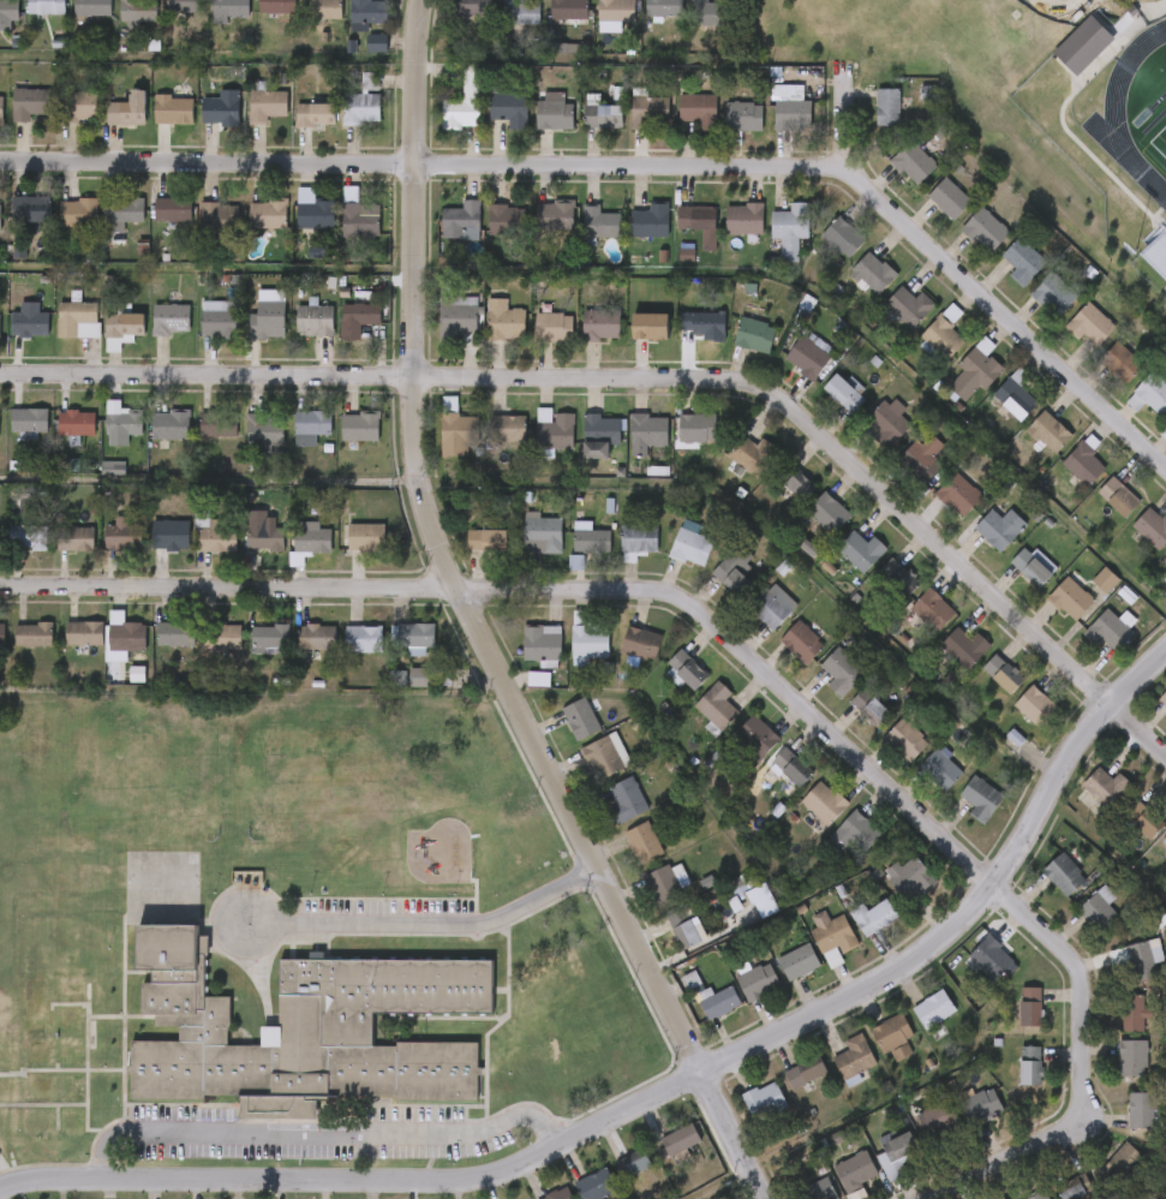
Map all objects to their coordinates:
road: (1059, 4)
building: (184, 6)
building: (277, 6)
building: (44, 7)
building: (92, 7)
building: (473, 7)
building: (231, 8)
building: (664, 8)
building: (8, 10)
building: (138, 10)
building: (323, 10)
building: (568, 10)
building: (367, 11)
building: (616, 11)
building: (521, 12)
building: (707, 13)
building: (162, 17)
building: (257, 18)
building: (72, 19)
building: (453, 19)
building: (208, 20)
building: (303, 20)
building: (644, 20)
building: (118, 23)
building: (548, 23)
building: (597, 24)
building: (346, 25)
building: (501, 26)
building: (684, 26)
building: (1082, 44)
building: (357, 59)
building: (464, 102)
building: (31, 103)
building: (267, 105)
building: (77, 106)
building: (509, 106)
building: (886, 107)
building: (361, 108)
building: (1, 109)
building: (128, 109)
building: (174, 109)
building: (698, 109)
building: (221, 111)
building: (650, 112)
building: (555, 113)
building: (316, 114)
building: (603, 115)
building: (791, 115)
building: (743, 117)
building: (342, 118)
building: (443, 118)
building: (62, 120)
building: (247, 121)
building: (489, 123)
building: (868, 123)
building: (202, 124)
building: (772, 124)
building: (108, 126)
building: (153, 126)
building: (630, 126)
building: (678, 126)
building: (534, 127)
building: (294, 130)
building: (581, 131)
building: (724, 132)
park: (1156, 144)
road: (421, 163)
building: (911, 163)
building: (892, 179)
building: (947, 199)
building: (126, 209)
building: (174, 209)
building: (32, 210)
building: (80, 211)
building: (269, 214)
building: (316, 214)
building: (926, 214)
building: (358, 215)
building: (0, 216)
building: (220, 217)
building: (555, 217)
building: (743, 219)
building: (461, 220)
building: (506, 221)
building: (650, 221)
building: (791, 221)
building: (599, 222)
building: (699, 223)
building: (153, 225)
building: (58, 228)
building: (102, 228)
building: (295, 229)
building: (247, 231)
building: (983, 231)
building: (537, 232)
building: (199, 233)
building: (724, 234)
building: (340, 235)
building: (486, 235)
building: (442, 237)
building: (630, 237)
building: (579, 238)
building: (842, 238)
building: (680, 239)
building: (770, 245)
building: (821, 253)
building: (1022, 261)
building: (872, 274)
building: (853, 288)
building: (1053, 294)
building: (908, 308)
building: (651, 316)
building: (359, 317)
building: (455, 317)
building: (79, 318)
building: (172, 318)
building: (220, 318)
building: (268, 318)
road: (1005, 320)
building: (316, 321)
building: (504, 322)
building: (887, 322)
building: (31, 323)
building: (125, 324)
building: (0, 326)
building: (1087, 326)
building: (600, 327)
building: (700, 327)
building: (552, 329)
building: (249, 332)
building: (437, 332)
building: (151, 334)
building: (336, 334)
building: (58, 335)
building: (198, 335)
building: (294, 335)
building: (754, 335)
building: (943, 335)
building: (483, 336)
building: (579, 340)
building: (629, 342)
building: (536, 344)
building: (102, 345)
building: (734, 351)
building: (806, 358)
building: (1122, 364)
building: (974, 372)
building: (787, 374)
road: (653, 376)
building: (843, 393)
building: (1149, 394)
building: (1013, 400)
building: (824, 407)
building: (30, 420)
building: (78, 423)
building: (122, 423)
building: (886, 423)
building: (0, 424)
building: (172, 424)
building: (220, 424)
building: (312, 426)
building: (361, 426)
building: (696, 428)
building: (265, 429)
building: (456, 430)
building: (507, 430)
building: (556, 433)
building: (646, 434)
building: (1048, 434)
building: (1164, 435)
building: (599, 436)
building: (868, 436)
building: (12, 439)
building: (56, 439)
building: (101, 439)
building: (150, 440)
building: (198, 440)
building: (291, 442)
building: (341, 442)
building: (488, 443)
building: (676, 443)
building: (534, 445)
building: (245, 446)
building: (435, 446)
building: (627, 448)
building: (580, 451)
building: (752, 455)
building: (923, 458)
building: (1083, 465)
building: (730, 470)
road: (209, 483)
building: (959, 496)
building: (1118, 497)
building: (778, 499)
building: (827, 514)
building: (808, 529)
building: (999, 529)
building: (1150, 530)
building: (172, 533)
building: (124, 535)
building: (219, 535)
building: (264, 535)
building: (367, 536)
building: (542, 536)
building: (30, 537)
building: (77, 537)
building: (312, 537)
building: (488, 541)
building: (636, 541)
building: (591, 542)
building: (689, 548)
building: (521, 549)
building: (102, 550)
building: (150, 550)
building: (244, 551)
building: (860, 551)
building: (12, 553)
building: (345, 553)
building: (55, 554)
building: (570, 554)
building: (197, 555)
building: (466, 555)
building: (617, 556)
building: (288, 557)
building: (1165, 557)
building: (669, 562)
building: (788, 563)
building: (1164, 565)
building: (1030, 568)
building: (839, 569)
building: (1106, 575)
building: (555, 578)
building: (733, 578)
building: (898, 578)
building: (713, 586)
building: (1070, 599)
building: (771, 607)
building: (932, 612)
building: (753, 622)
road: (473, 627)
building: (177, 632)
building: (1107, 632)
building: (2, 633)
building: (35, 633)
building: (85, 633)
building: (223, 634)
building: (413, 634)
building: (271, 637)
building: (319, 637)
building: (365, 638)
building: (588, 638)
building: (124, 639)
building: (542, 644)
building: (640, 644)
building: (801, 644)
building: (64, 649)
building: (155, 649)
building: (962, 649)
building: (16, 650)
building: (103, 651)
building: (202, 651)
building: (249, 652)
building: (297, 652)
building: (343, 654)
building: (395, 654)
building: (566, 656)
building: (782, 657)
building: (621, 658)
road: (748, 658)
building: (522, 661)
building: (688, 670)
building: (841, 672)
building: (1004, 675)
building: (423, 676)
building: (666, 685)
building: (821, 687)
building: (116, 692)
building: (377, 692)
building: (399, 692)
building: (519, 694)
building: (1162, 698)
building: (717, 706)
building: (1035, 706)
building: (871, 709)
building: (839, 715)
building: (580, 720)
building: (696, 721)
building: (560, 734)
building: (905, 740)
building: (752, 742)
building: (602, 757)
building: (793, 768)
building: (584, 770)
building: (940, 770)
building: (771, 782)
building: (1106, 787)
building: (980, 799)
building: (626, 800)
building: (824, 803)
building: (606, 815)
building: (803, 818)
building: (1141, 821)
building: (851, 834)
building: (1164, 841)
building: (642, 845)
building: (622, 858)
building: (1064, 875)
building: (911, 877)
building: (739, 885)
building: (664, 887)
building: (646, 899)
building: (716, 901)
building: (1099, 912)
building: (741, 915)
building: (873, 918)
road: (425, 924)
building: (683, 930)
building: (830, 932)
building: (665, 944)
building: (813, 952)
building: (991, 958)
building: (1142, 961)
building: (797, 962)
building: (778, 977)
building: (758, 982)
building: (737, 996)
building: (50, 997)
building: (719, 1003)
building: (1032, 1007)
building: (934, 1009)
building: (1131, 1012)
building: (699, 1018)
building: (303, 1030)
building: (50, 1032)
building: (893, 1036)
building: (855, 1057)
building: (1132, 1058)
building: (1032, 1066)
building: (50, 1067)
building: (807, 1073)
building: (787, 1086)
road: (663, 1092)
building: (765, 1099)
building: (20, 1102)
building: (50, 1103)
building: (981, 1105)
building: (1142, 1110)
building: (743, 1114)
building: (939, 1120)
road: (317, 1126)
building: (50, 1137)
building: (680, 1139)
building: (658, 1155)
building: (897, 1155)
building: (636, 1162)
building: (1123, 1163)
building: (856, 1171)
building: (597, 1185)
building: (1074, 1187)
building: (818, 1189)
building: (575, 1193)
building: (1039, 1195)

